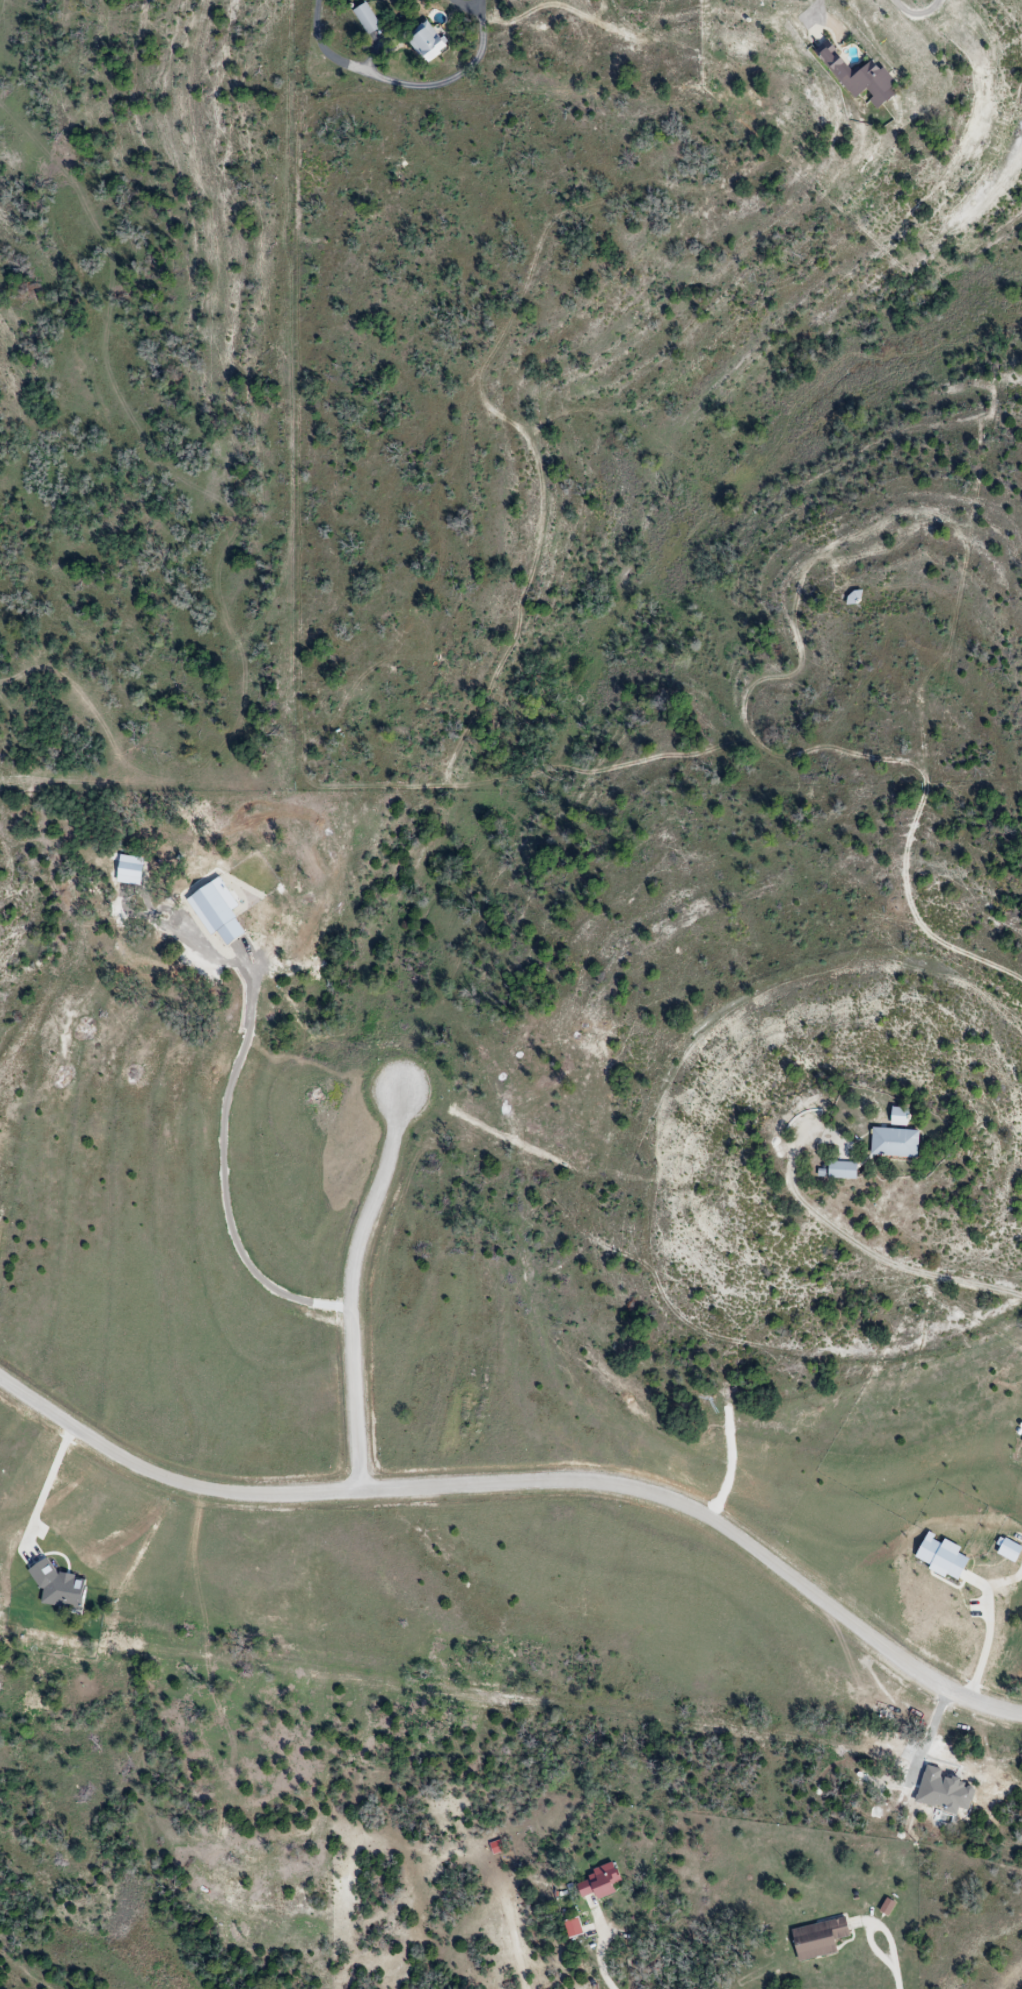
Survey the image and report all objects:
road: (481, 4)
road: (465, 9)
road: (918, 13)
building: (370, 19)
building: (432, 41)
building: (867, 77)
road: (401, 84)
building: (900, 1143)
building: (847, 1171)
road: (223, 1183)
road: (869, 1253)
road: (350, 1288)
road: (528, 1482)
road: (988, 1643)
building: (605, 1881)
building: (822, 1938)
road: (609, 1950)
road: (900, 1966)

